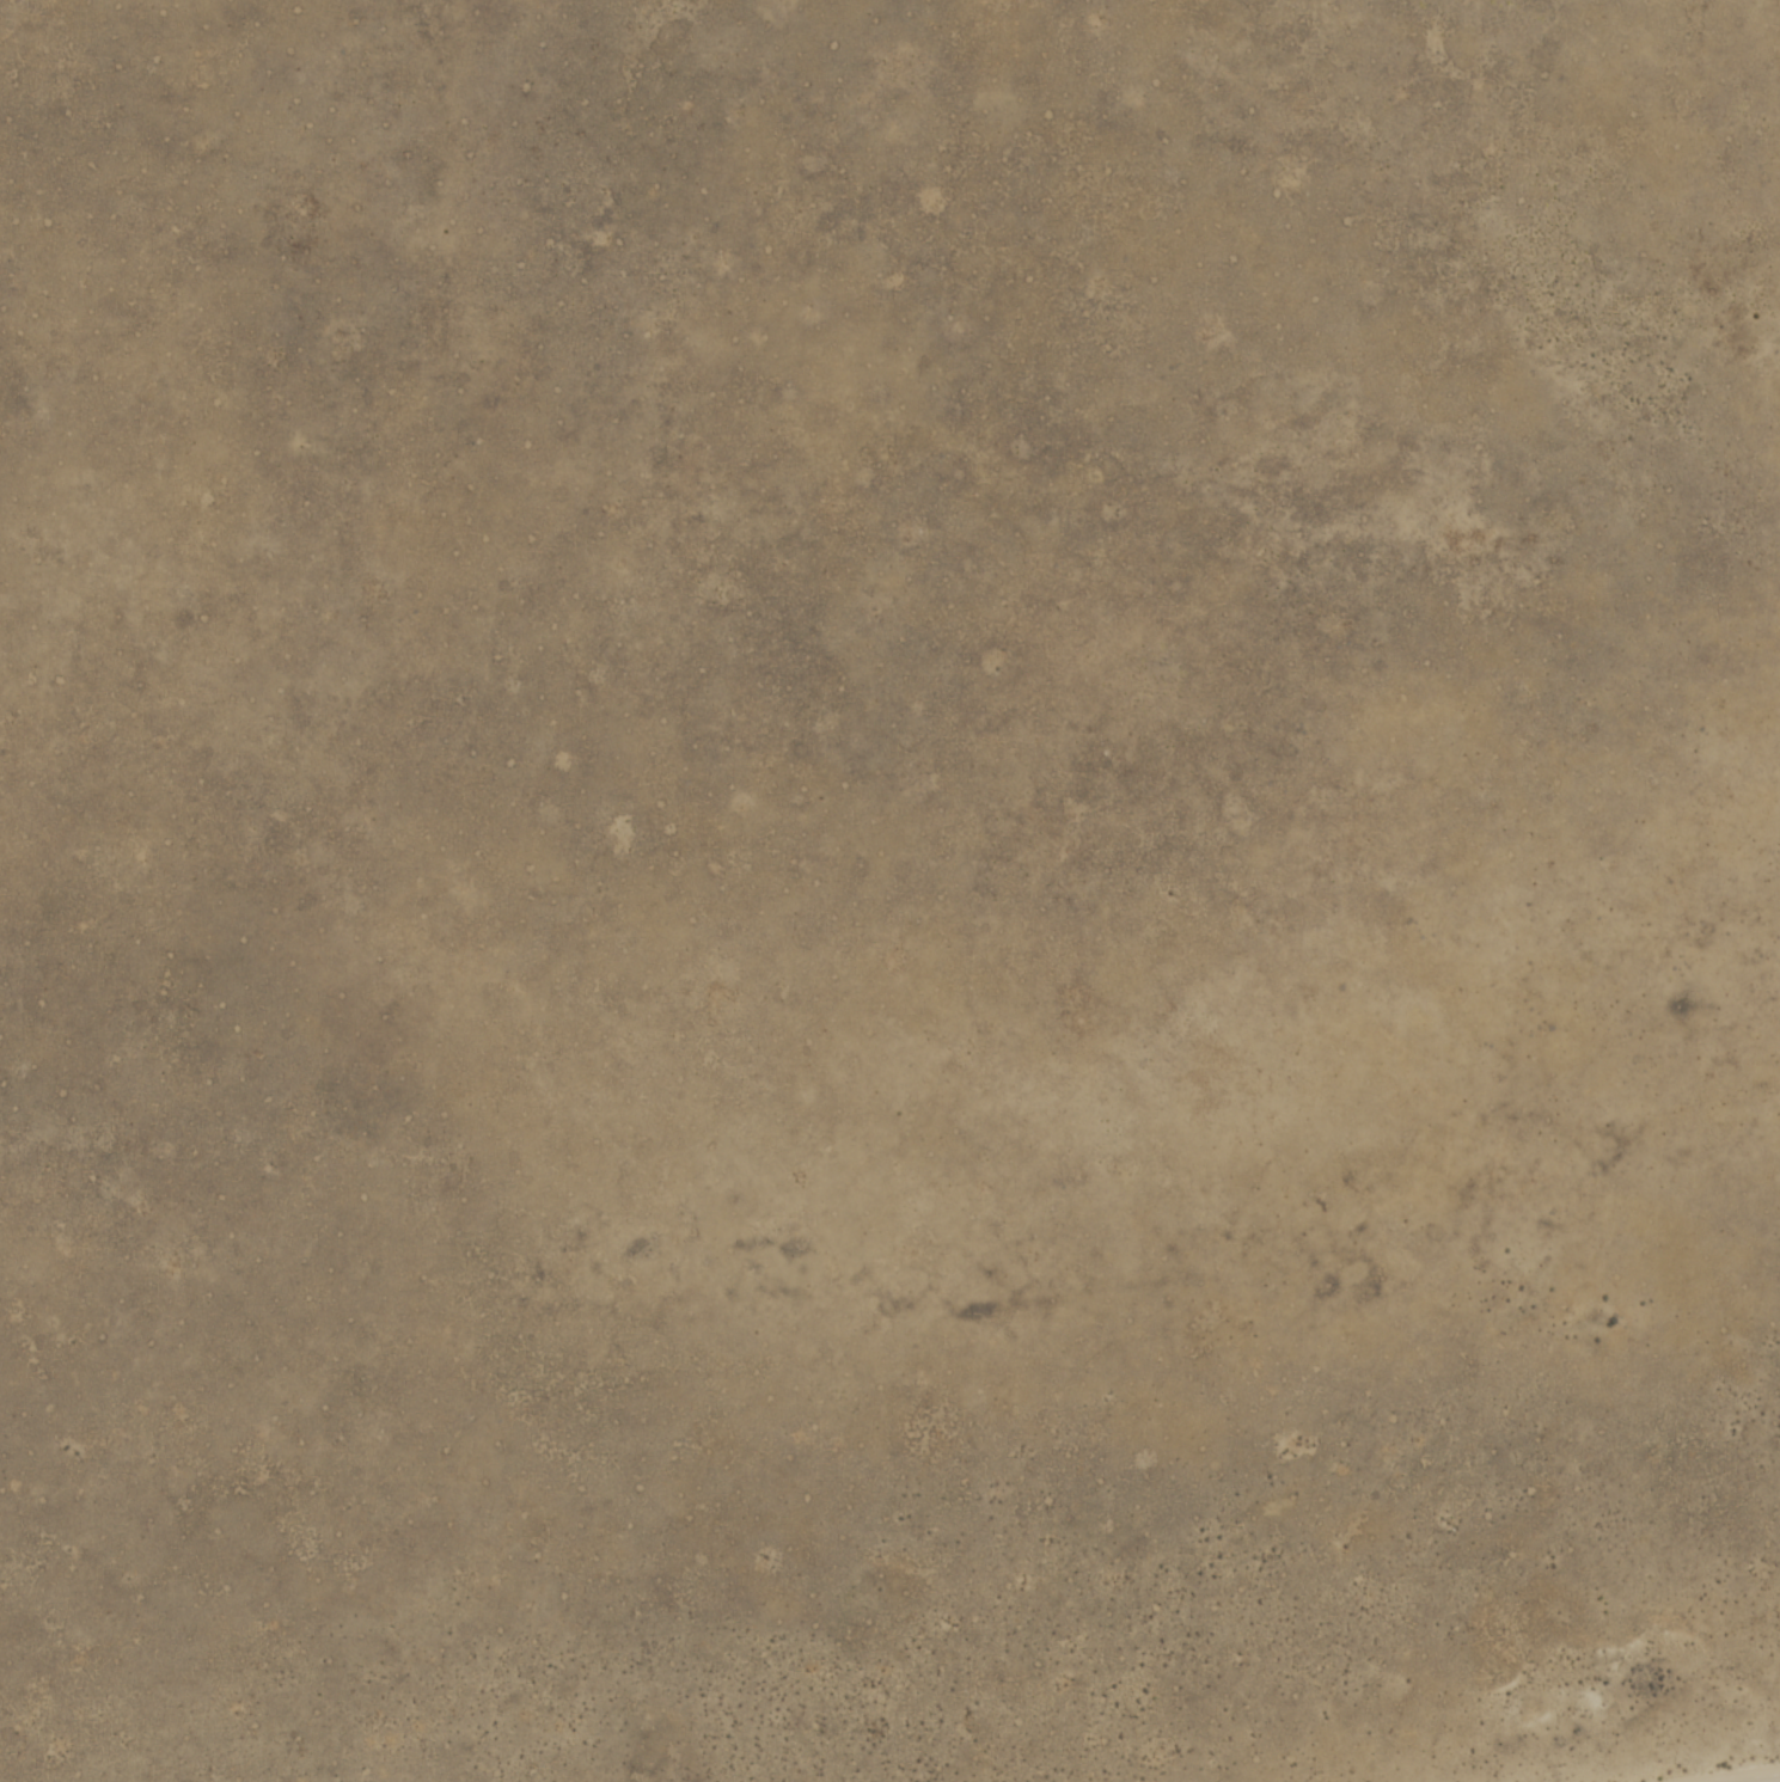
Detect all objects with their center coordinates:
road: (1770, 1780)

